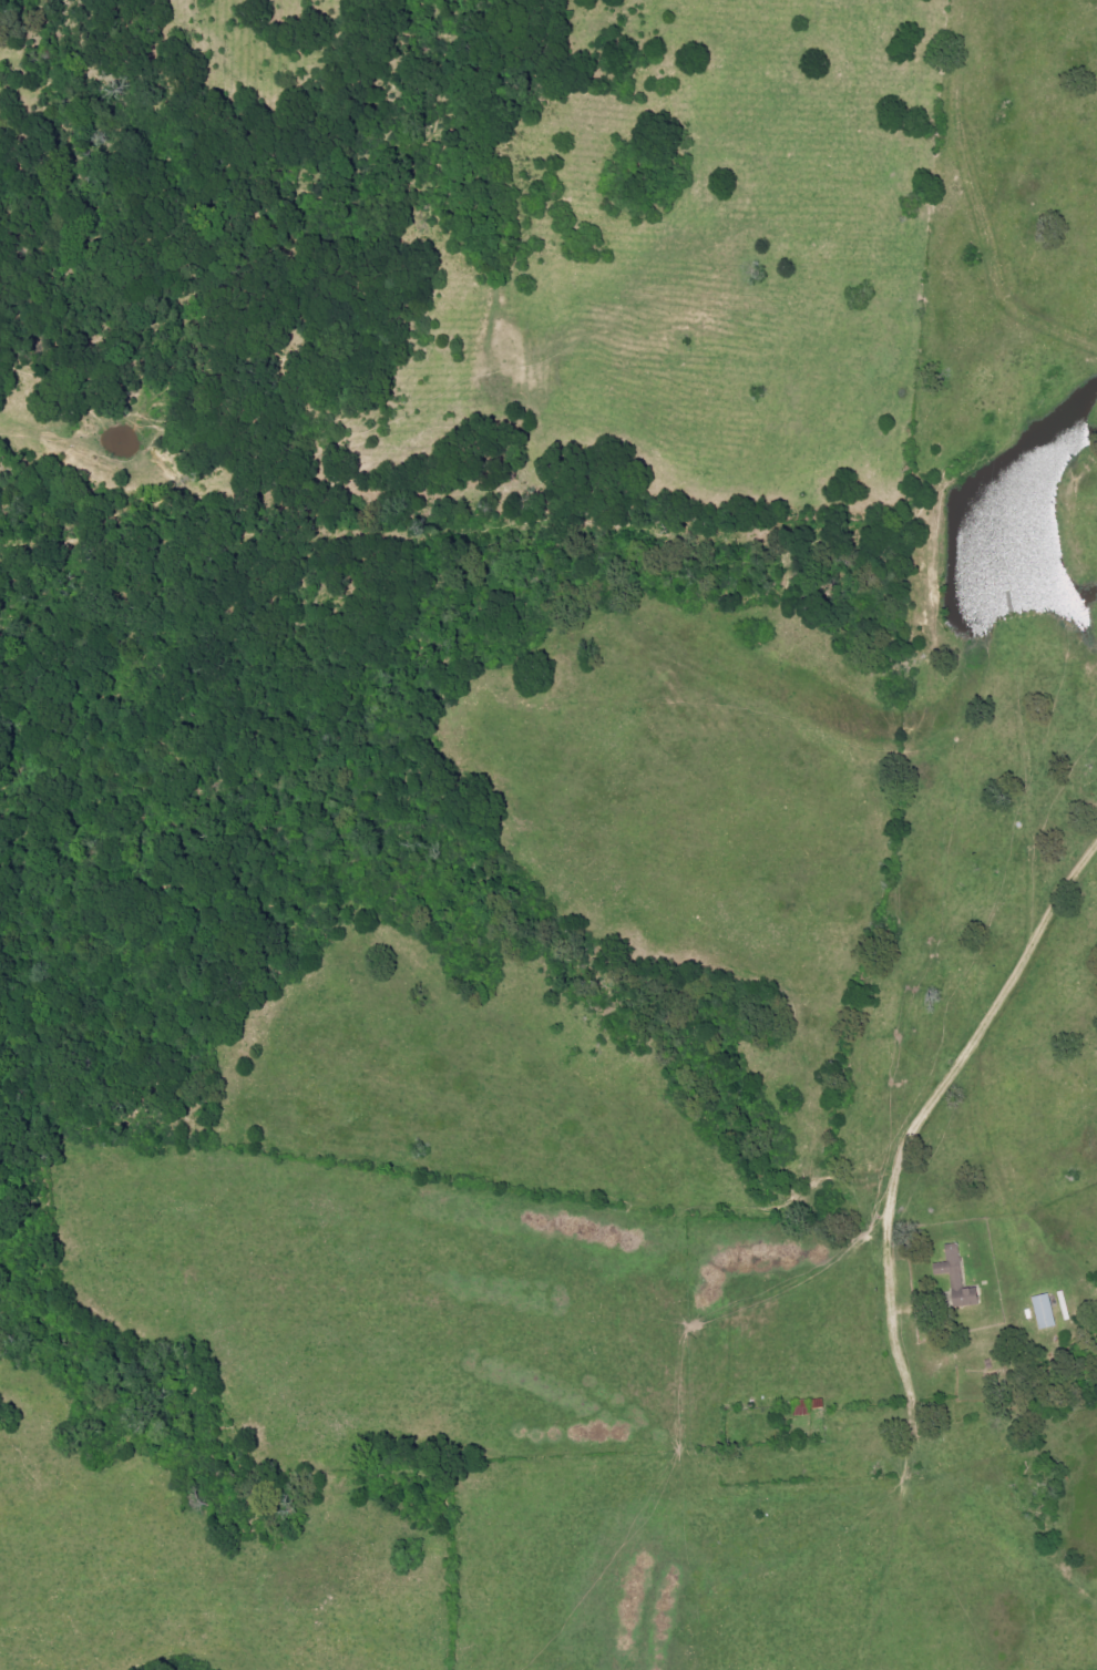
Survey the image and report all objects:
road: (988, 151)
road: (878, 1212)
building: (958, 1278)
building: (1039, 1310)

